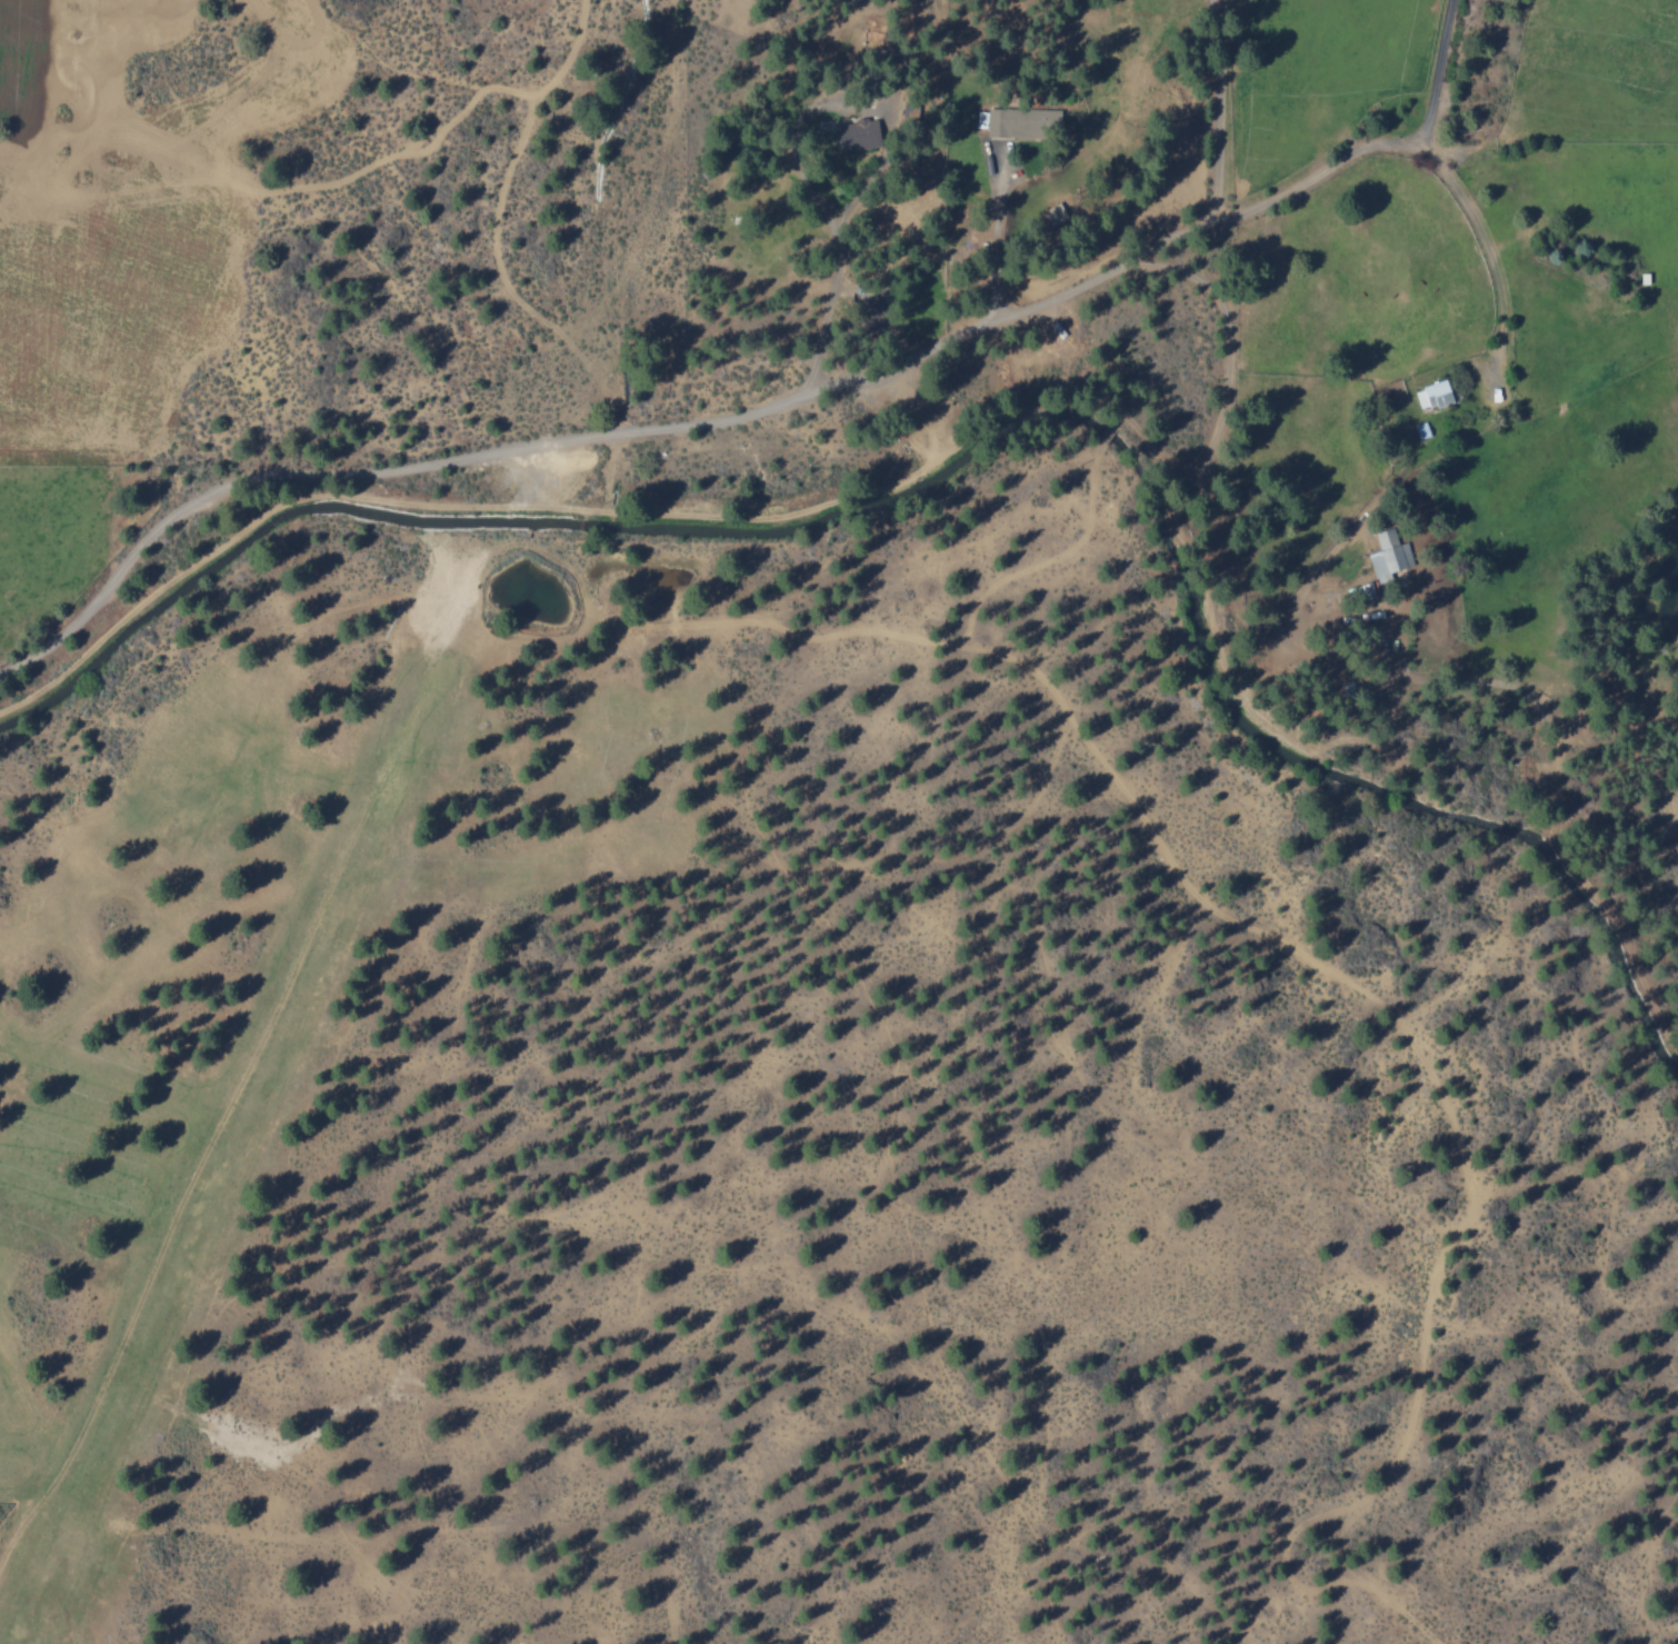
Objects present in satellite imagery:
building: (1015, 119)
building: (850, 134)
crop: (193, 161)
road: (997, 322)
building: (1430, 393)
road: (1108, 432)
road: (208, 488)
road: (1077, 537)
building: (1388, 551)
road: (30, 1553)
road: (303, 1604)

